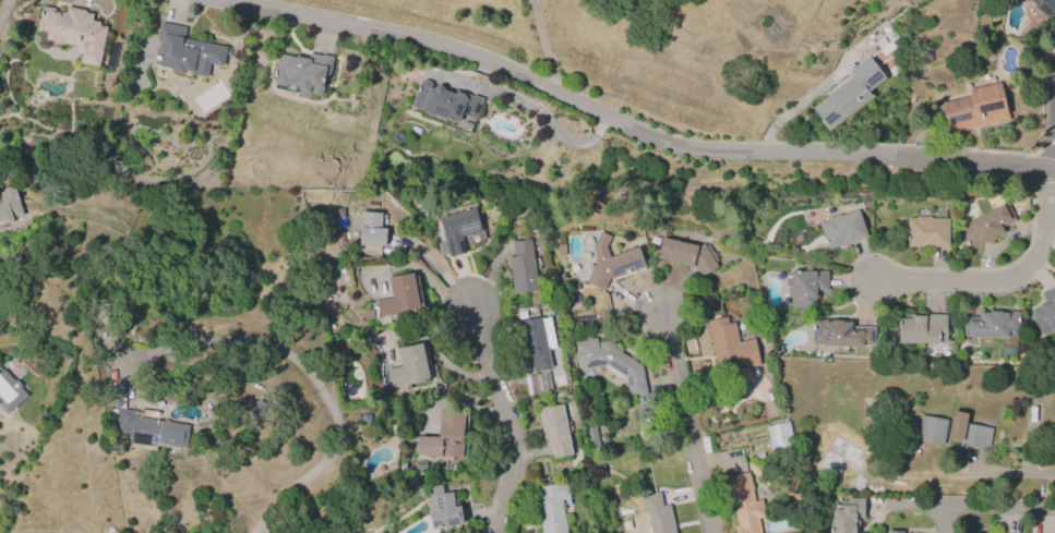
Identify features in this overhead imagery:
road: (1, 5)
building: (1044, 7)
building: (72, 32)
road: (543, 46)
building: (886, 49)
building: (184, 51)
building: (303, 72)
building: (849, 93)
road: (808, 96)
building: (445, 101)
road: (1052, 106)
building: (974, 108)
road: (537, 110)
road: (624, 126)
building: (9, 204)
building: (986, 226)
building: (841, 229)
building: (456, 230)
building: (926, 232)
building: (370, 233)
building: (687, 255)
building: (611, 262)
road: (435, 265)
building: (521, 268)
road: (1014, 277)
building: (572, 287)
building: (804, 288)
building: (398, 299)
building: (1045, 312)
building: (367, 315)
building: (922, 328)
building: (994, 329)
building: (840, 334)
building: (537, 341)
building: (729, 346)
building: (610, 365)
building: (407, 366)
road: (309, 368)
building: (537, 383)
building: (9, 391)
building: (256, 409)
road: (506, 419)
road: (688, 424)
building: (148, 429)
building: (554, 429)
building: (931, 429)
building: (967, 432)
building: (591, 436)
building: (779, 436)
building: (444, 437)
building: (598, 472)
road: (1015, 474)
building: (744, 505)
building: (441, 507)
building: (551, 508)
road: (961, 510)
building: (657, 513)
building: (847, 516)
building: (894, 531)

